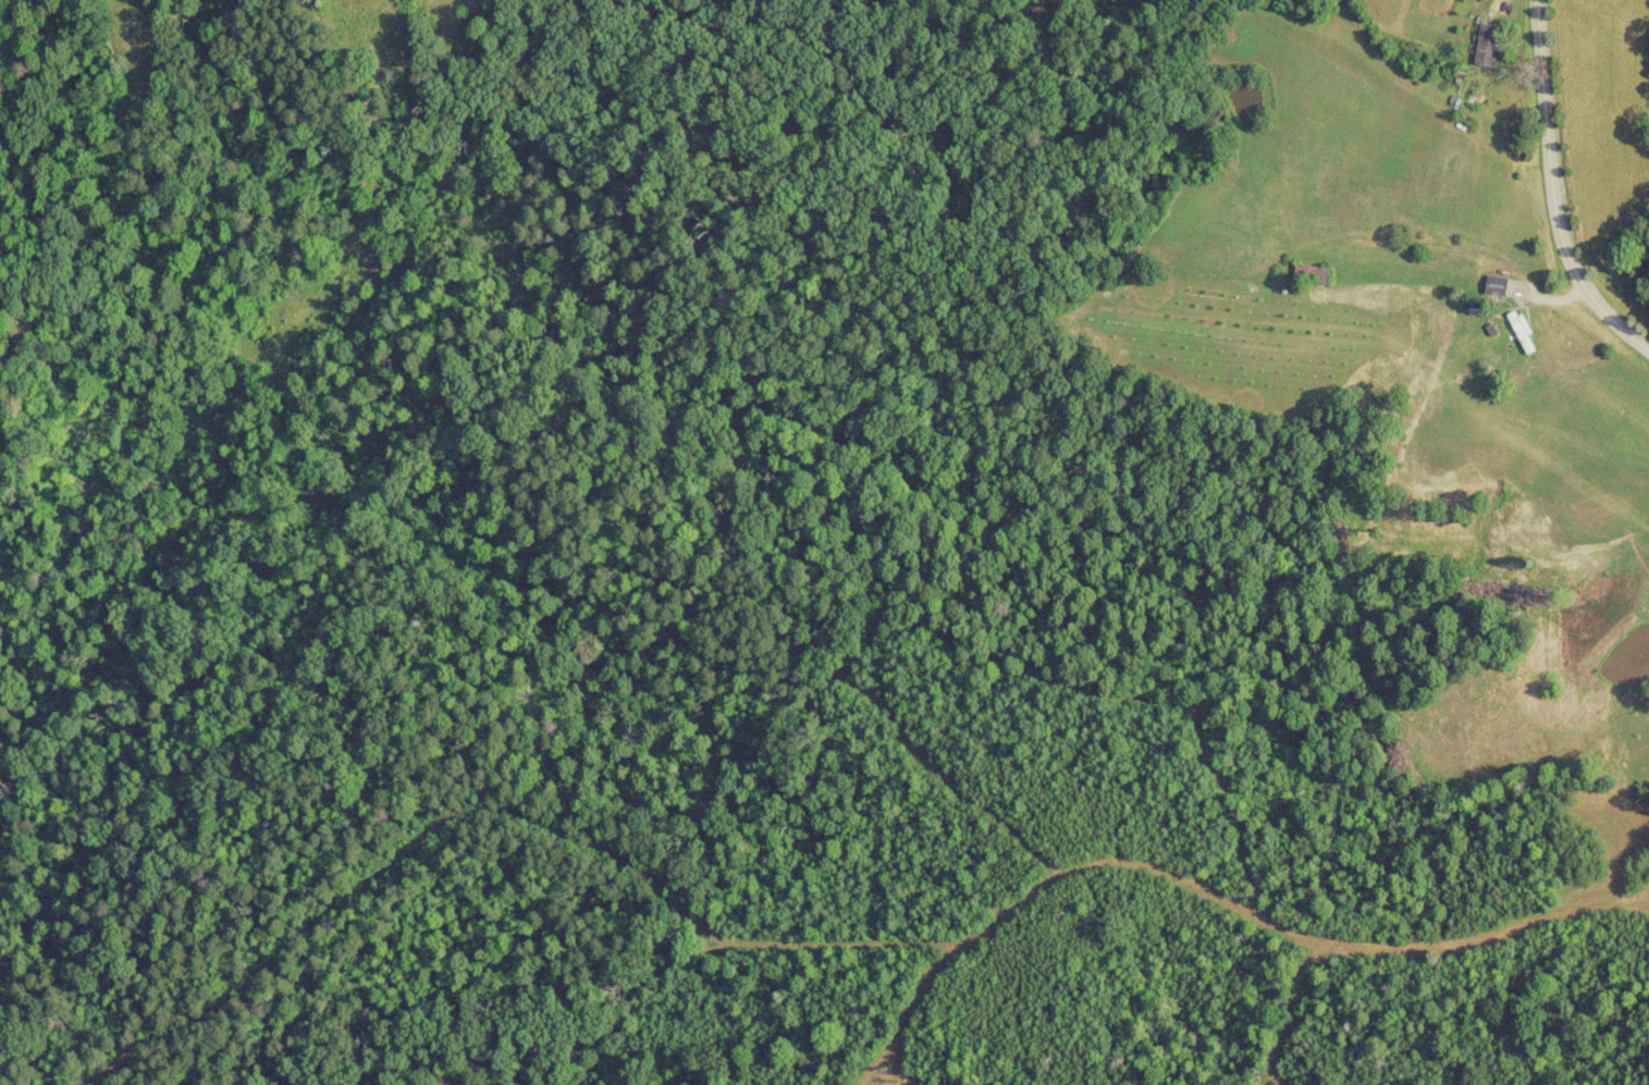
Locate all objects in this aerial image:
building: (1487, 45)
road: (1551, 174)
building: (1307, 274)
building: (1496, 285)
building: (1522, 332)

